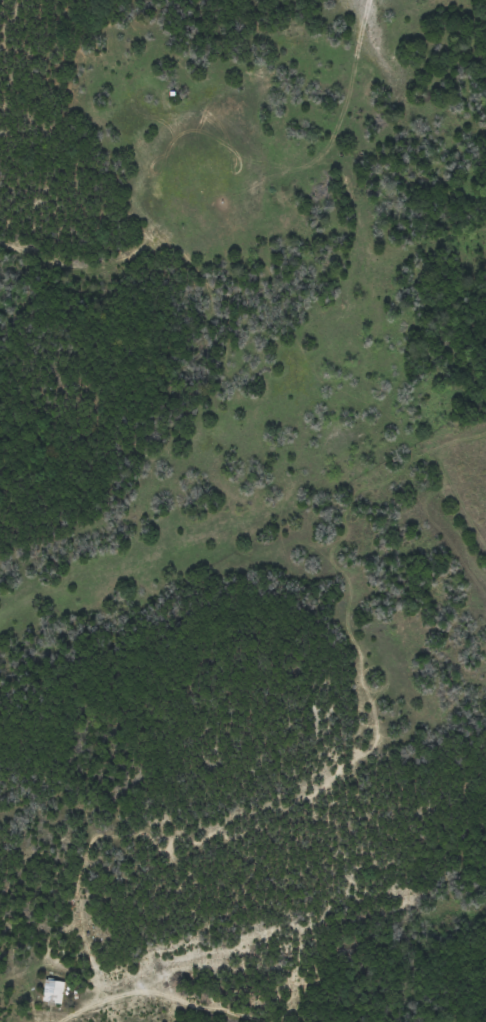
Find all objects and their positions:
building: (54, 990)
road: (201, 1003)

